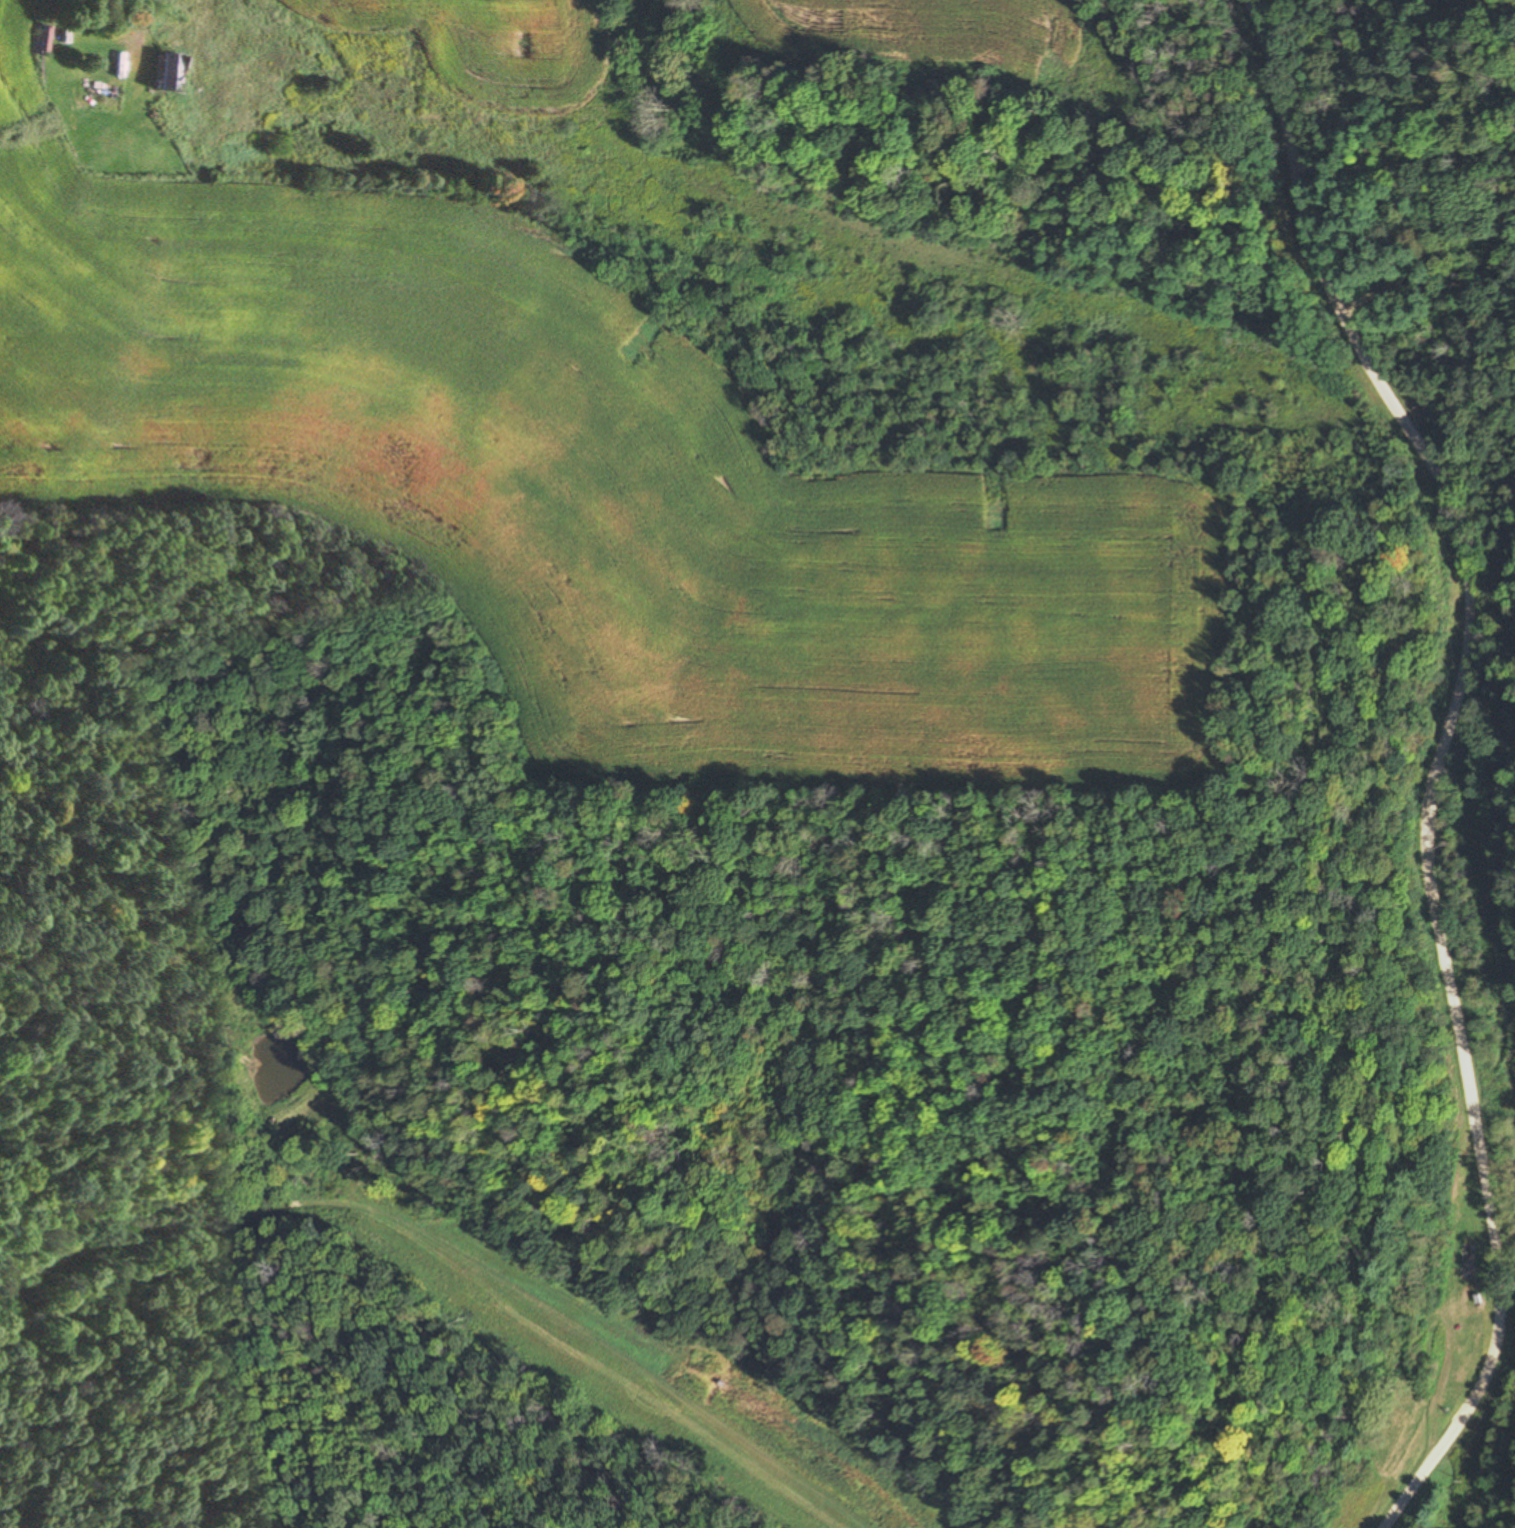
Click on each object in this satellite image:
building: (35, 39)
building: (161, 71)
road: (1433, 757)
road: (643, 1368)

